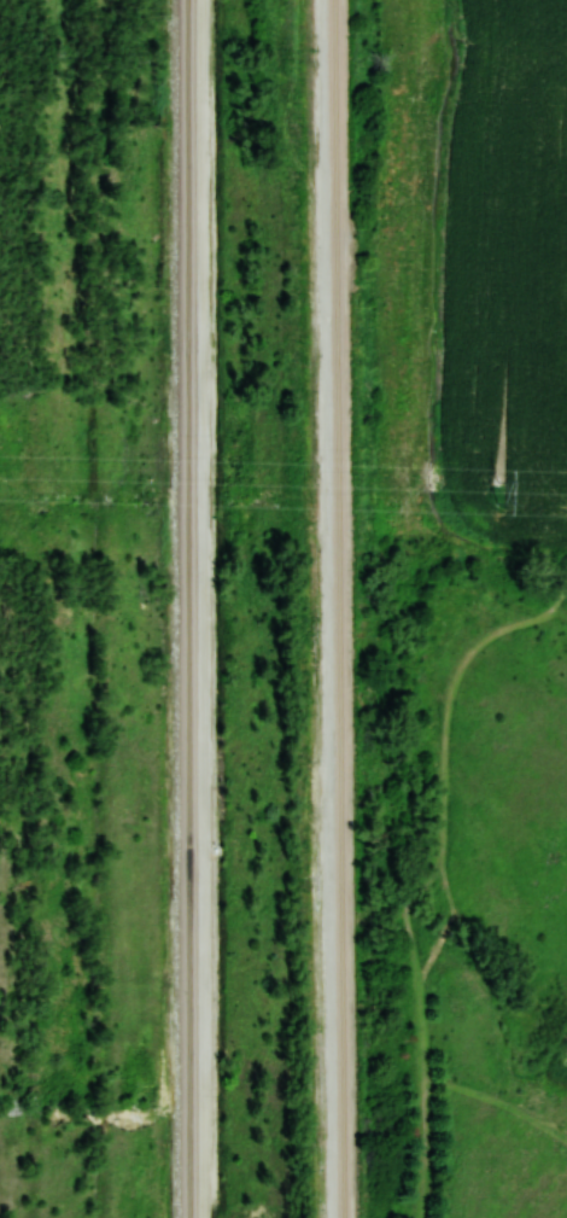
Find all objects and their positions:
power tower: (497, 490)
railway: (185, 608)
railway: (339, 608)

